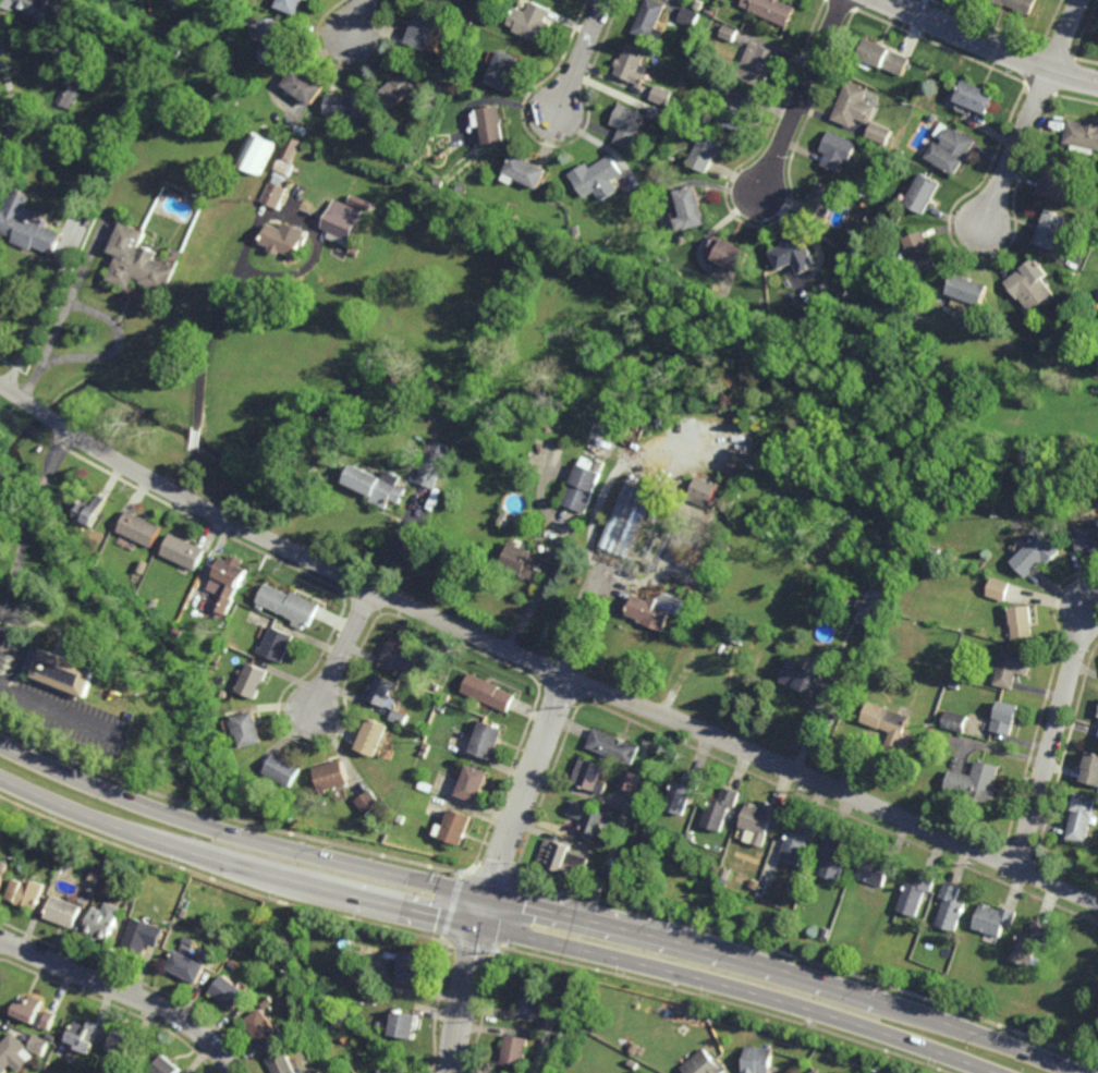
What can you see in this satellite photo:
building: (291, 4)
building: (1018, 4)
building: (37, 8)
building: (771, 9)
building: (464, 10)
building: (709, 11)
building: (688, 16)
building: (649, 19)
road: (358, 21)
building: (532, 21)
road: (0, 22)
building: (491, 24)
building: (468, 26)
building: (423, 31)
building: (729, 32)
road: (1067, 35)
building: (271, 39)
road: (990, 45)
building: (174, 51)
road: (581, 57)
building: (884, 58)
building: (632, 63)
building: (757, 64)
building: (502, 70)
building: (305, 84)
building: (722, 86)
building: (400, 87)
building: (69, 95)
building: (661, 96)
building: (975, 97)
road: (803, 98)
building: (674, 99)
road: (12, 106)
building: (853, 106)
building: (349, 107)
building: (735, 113)
building: (922, 113)
building: (659, 114)
building: (680, 119)
building: (934, 119)
building: (492, 125)
building: (626, 126)
building: (302, 130)
building: (879, 133)
building: (1082, 135)
road: (1020, 147)
building: (951, 149)
building: (706, 150)
building: (838, 151)
building: (257, 154)
building: (887, 154)
building: (314, 155)
building: (438, 158)
building: (526, 172)
building: (283, 174)
building: (599, 179)
building: (1056, 181)
building: (346, 185)
building: (461, 190)
building: (925, 194)
building: (356, 199)
building: (868, 200)
building: (300, 202)
building: (823, 205)
building: (692, 210)
building: (344, 219)
building: (27, 224)
building: (1050, 231)
building: (577, 232)
building: (283, 241)
building: (355, 251)
building: (792, 254)
building: (922, 254)
building: (728, 257)
building: (138, 263)
building: (1026, 280)
building: (966, 291)
road: (63, 316)
road: (217, 319)
building: (805, 320)
building: (1075, 363)
road: (196, 439)
building: (417, 442)
road: (62, 453)
building: (434, 462)
road: (187, 472)
building: (375, 484)
building: (582, 486)
building: (703, 490)
road: (42, 493)
building: (90, 508)
building: (627, 519)
building: (141, 527)
building: (1086, 535)
building: (184, 550)
building: (937, 550)
building: (1034, 551)
building: (524, 561)
building: (143, 565)
road: (20, 570)
building: (229, 580)
building: (995, 587)
building: (290, 605)
building: (656, 608)
building: (874, 608)
building: (244, 609)
building: (220, 617)
building: (1018, 619)
building: (175, 636)
building: (276, 643)
building: (223, 647)
road: (345, 650)
building: (100, 651)
building: (400, 653)
road: (538, 662)
building: (1011, 664)
building: (65, 671)
building: (956, 672)
building: (253, 680)
building: (808, 680)
building: (381, 690)
building: (487, 692)
building: (441, 708)
building: (1097, 714)
building: (398, 717)
building: (1004, 718)
building: (957, 720)
building: (891, 727)
building: (247, 728)
building: (1097, 734)
building: (371, 736)
road: (1053, 736)
building: (437, 737)
building: (486, 740)
building: (425, 746)
building: (613, 746)
building: (423, 753)
building: (1090, 768)
building: (283, 769)
building: (589, 775)
building: (331, 776)
building: (630, 780)
building: (977, 782)
building: (472, 783)
building: (425, 787)
building: (682, 792)
building: (1097, 797)
building: (368, 802)
building: (720, 809)
building: (1079, 817)
building: (587, 818)
building: (760, 818)
building: (401, 819)
building: (370, 824)
building: (455, 827)
building: (798, 842)
building: (834, 856)
building: (561, 857)
building: (605, 859)
building: (614, 864)
building: (878, 868)
building: (2, 870)
road: (498, 870)
building: (725, 874)
building: (94, 877)
building: (26, 893)
building: (917, 894)
building: (952, 907)
road: (538, 909)
building: (63, 912)
building: (995, 919)
building: (162, 920)
building: (105, 922)
road: (497, 929)
building: (1053, 929)
building: (825, 932)
building: (144, 937)
building: (1029, 943)
building: (235, 963)
building: (188, 967)
building: (412, 968)
building: (568, 980)
road: (126, 991)
building: (231, 992)
building: (269, 1001)
building: (530, 1001)
building: (34, 1013)
building: (57, 1024)
building: (381, 1024)
building: (404, 1024)
building: (263, 1027)
building: (84, 1035)
building: (51, 1037)
building: (548, 1037)
building: (39, 1045)
building: (125, 1045)
building: (634, 1049)
building: (515, 1050)
building: (12, 1052)
building: (757, 1060)
building: (283, 1061)
building: (168, 1064)
building: (704, 1064)
building: (815, 1071)
building: (47, 1072)

